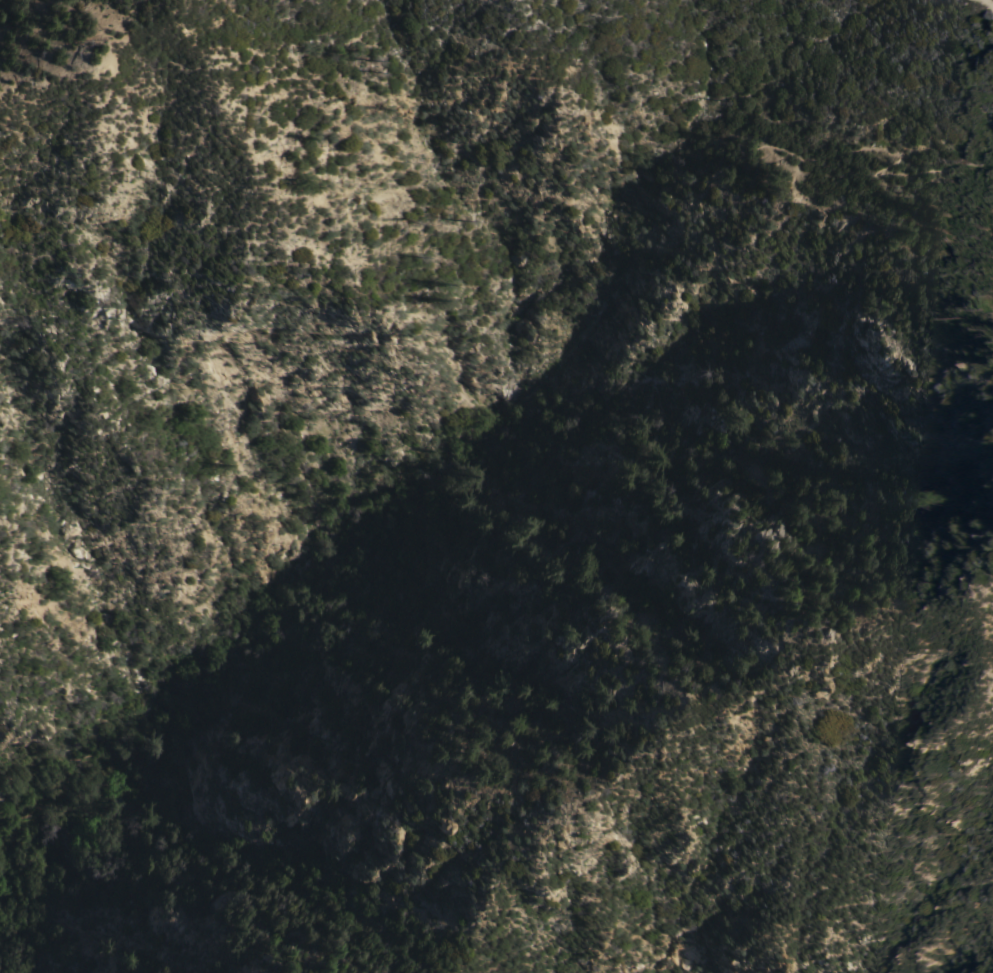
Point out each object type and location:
road: (991, 1)
road: (970, 64)
road: (525, 537)

